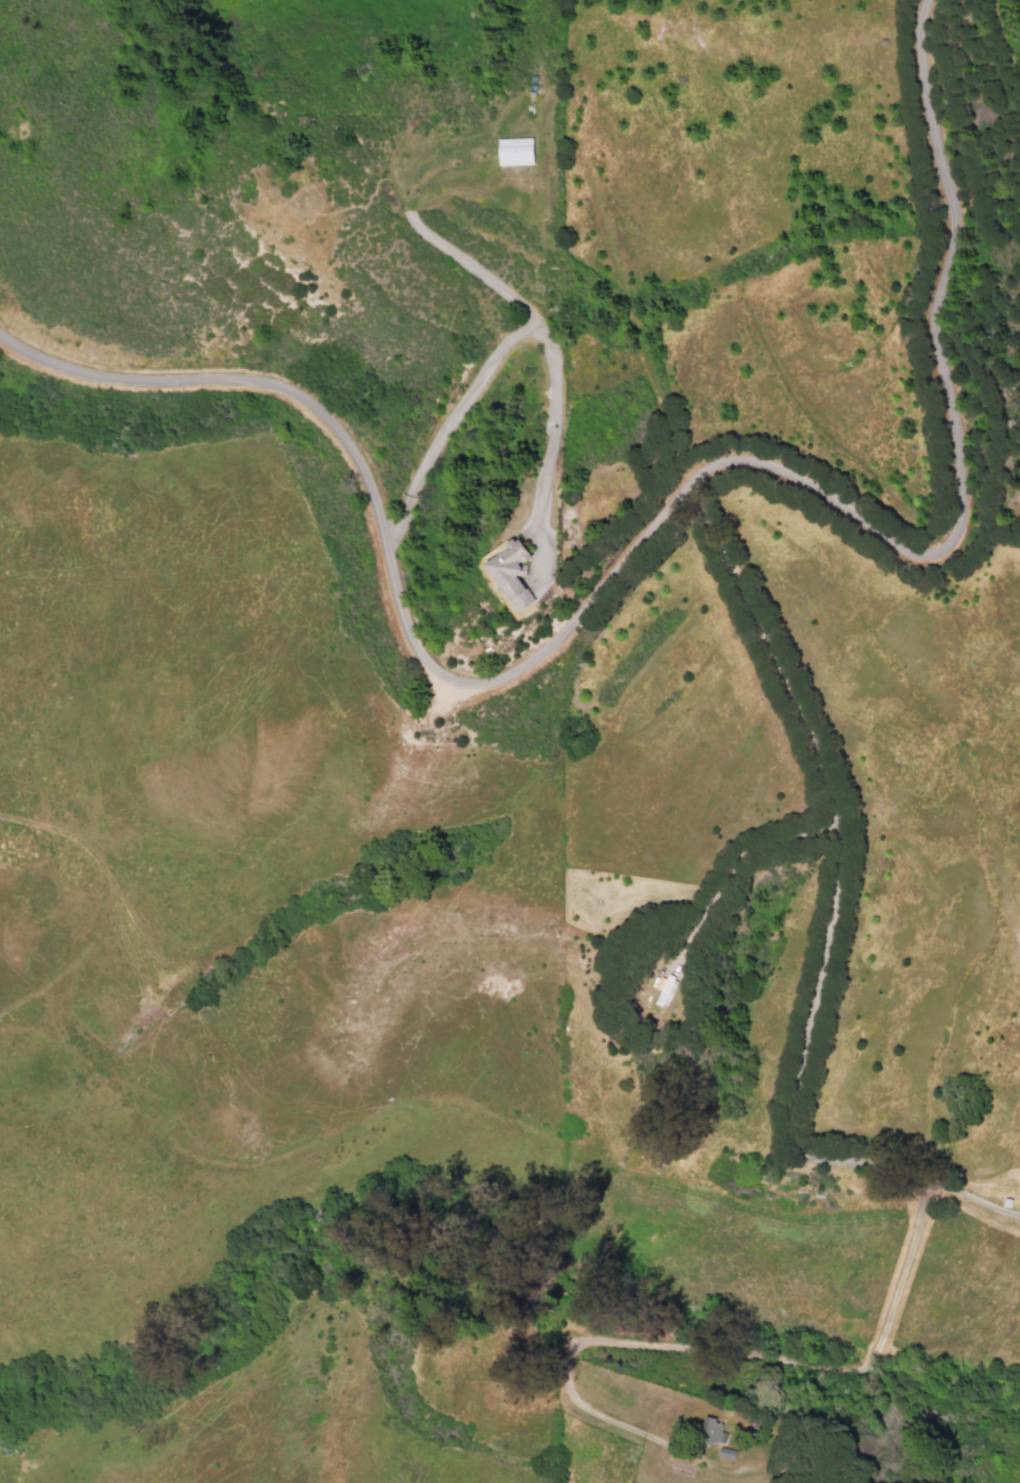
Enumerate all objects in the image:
building: (510, 146)
road: (477, 270)
road: (508, 340)
road: (650, 527)
building: (506, 572)
road: (731, 864)
road: (832, 922)
road: (704, 1349)
building: (712, 1429)

